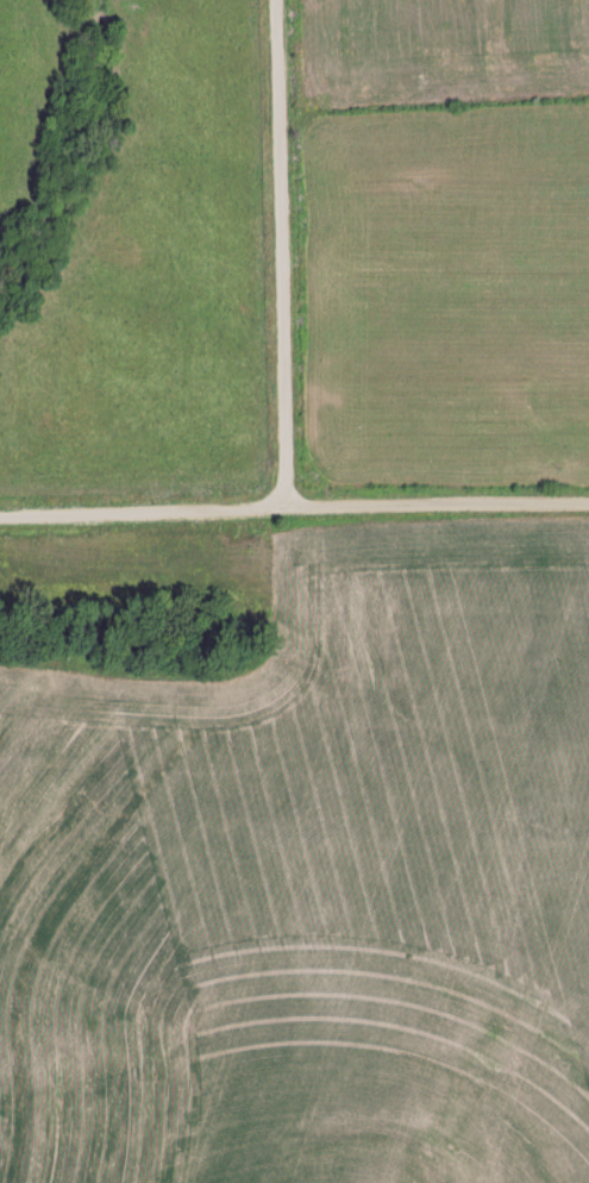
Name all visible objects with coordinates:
road: (271, 252)
road: (434, 505)
road: (139, 511)

